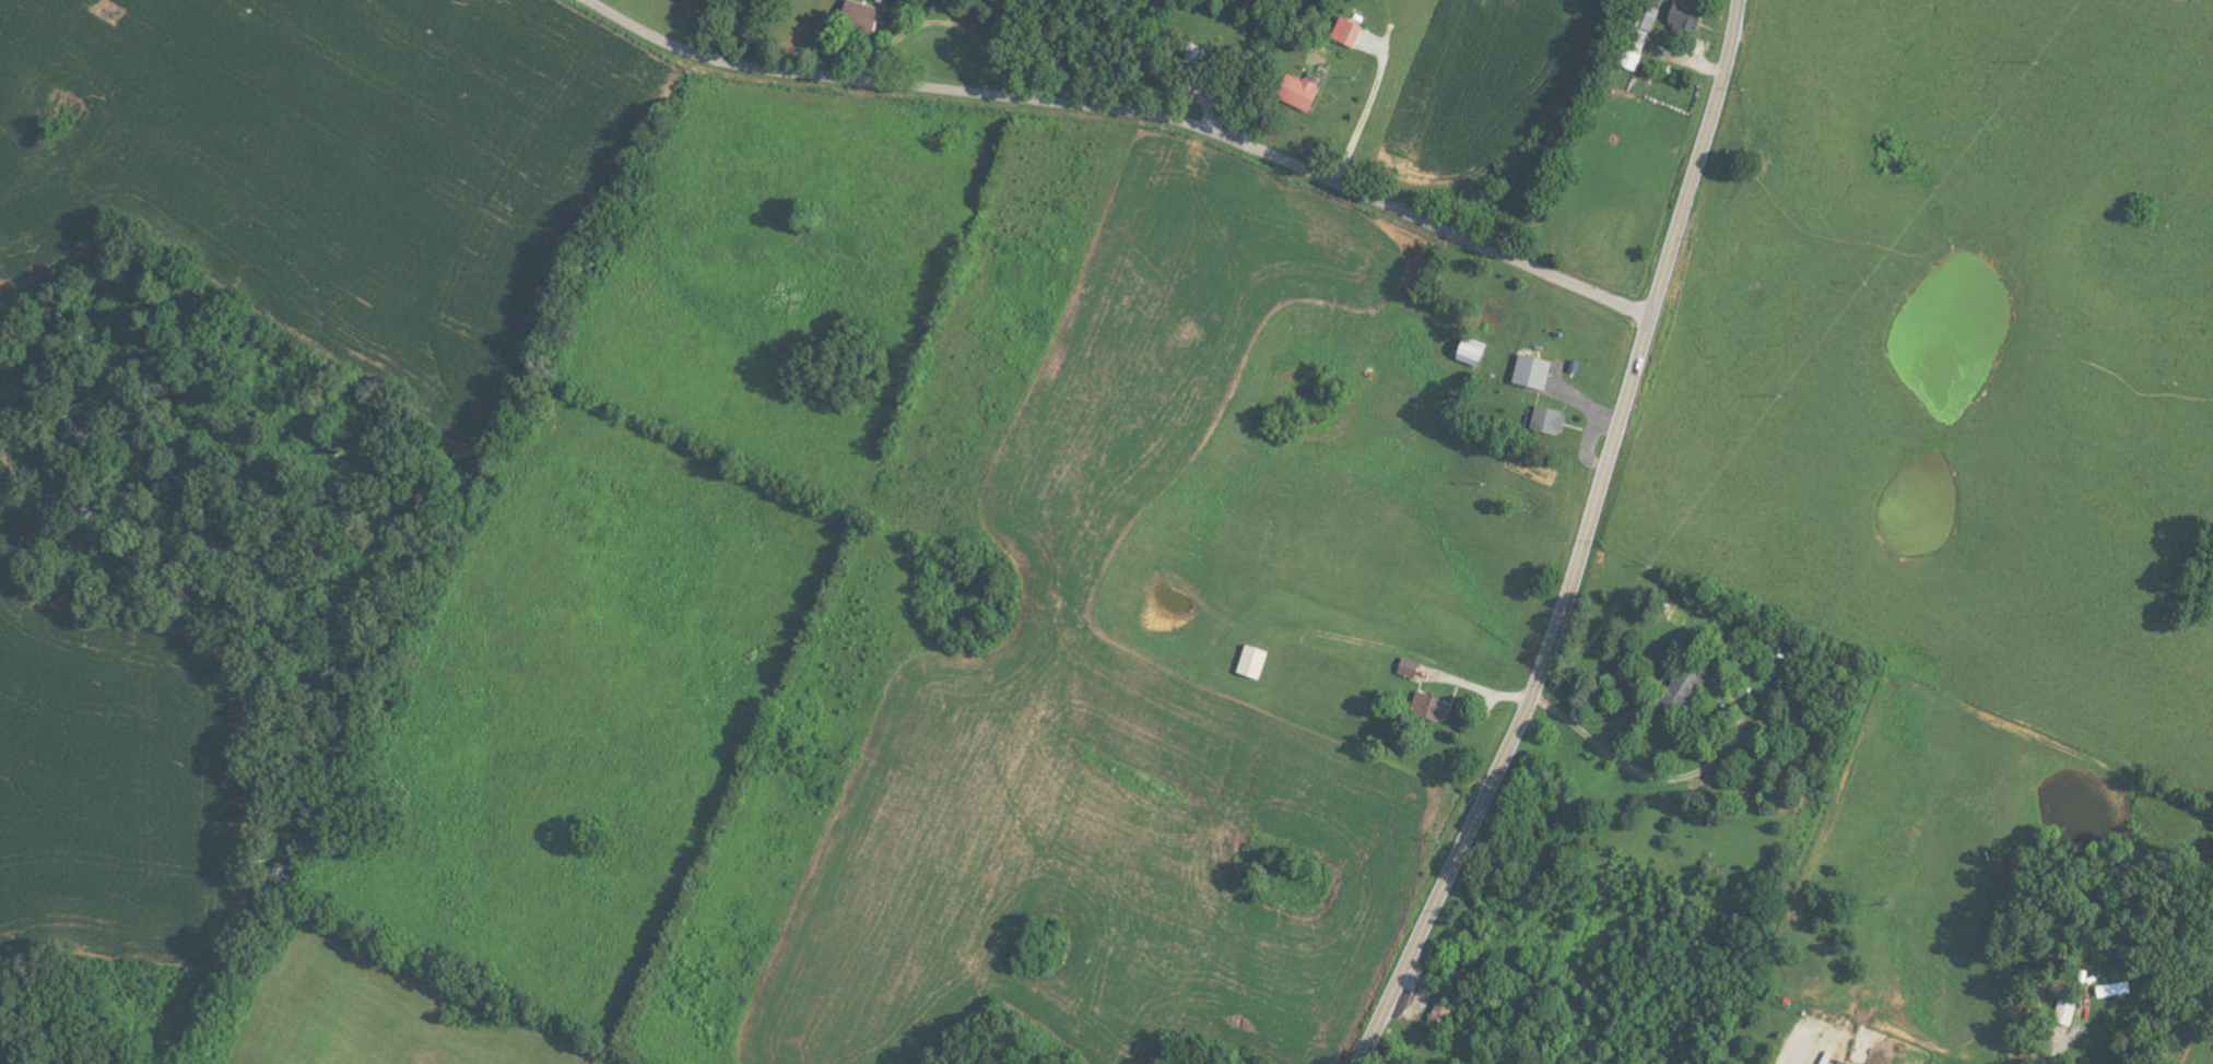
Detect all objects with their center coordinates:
building: (863, 16)
building: (1686, 16)
building: (1352, 31)
building: (1308, 92)
road: (1130, 111)
road: (1364, 113)
building: (1478, 352)
building: (1537, 371)
building: (1552, 419)
road: (1582, 544)
building: (1257, 662)
building: (1412, 667)
road: (1471, 696)
building: (1434, 706)
road: (1635, 768)
building: (2069, 1013)
building: (1441, 1016)
road: (2046, 1054)
building: (1845, 1062)

